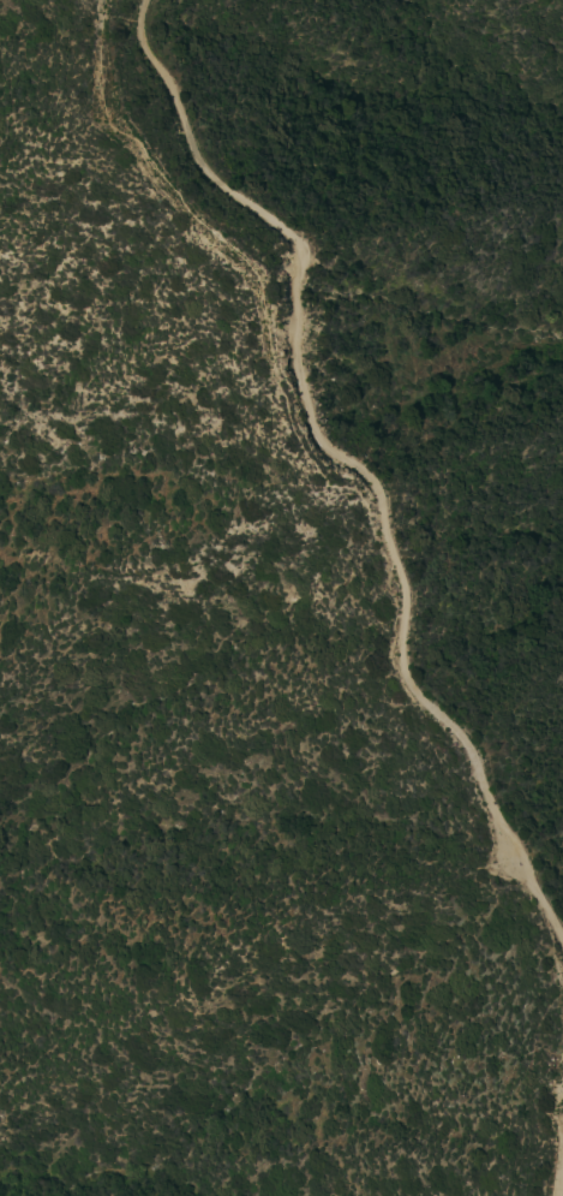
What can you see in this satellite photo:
road: (349, 463)
road: (559, 1177)

